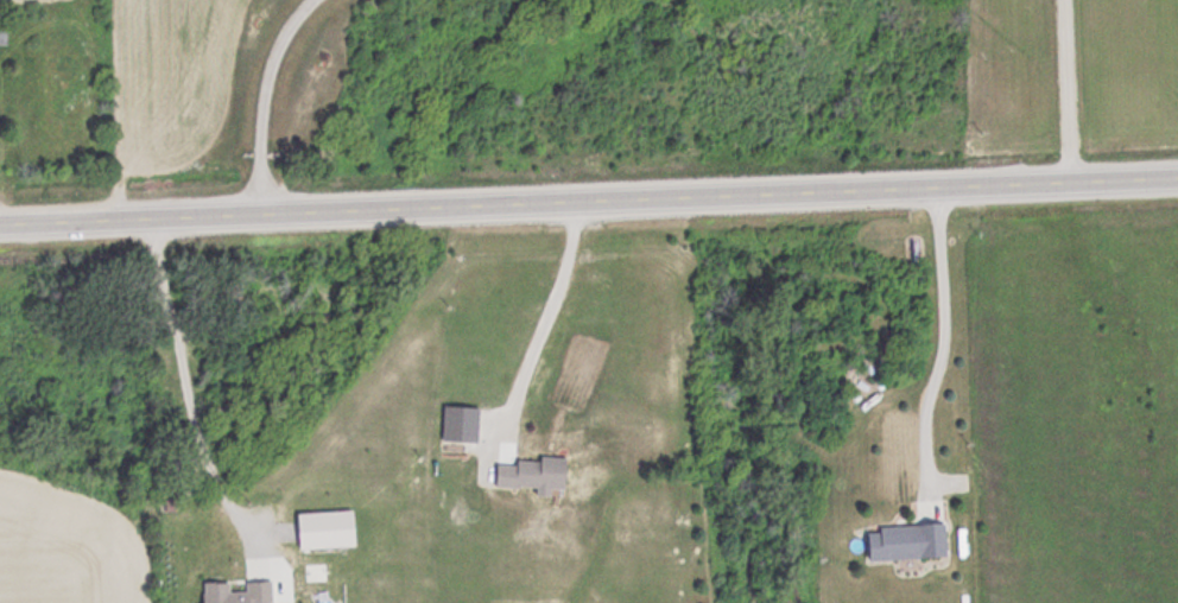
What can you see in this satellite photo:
building: (5, 34)
road: (589, 199)
building: (538, 476)
building: (910, 542)

